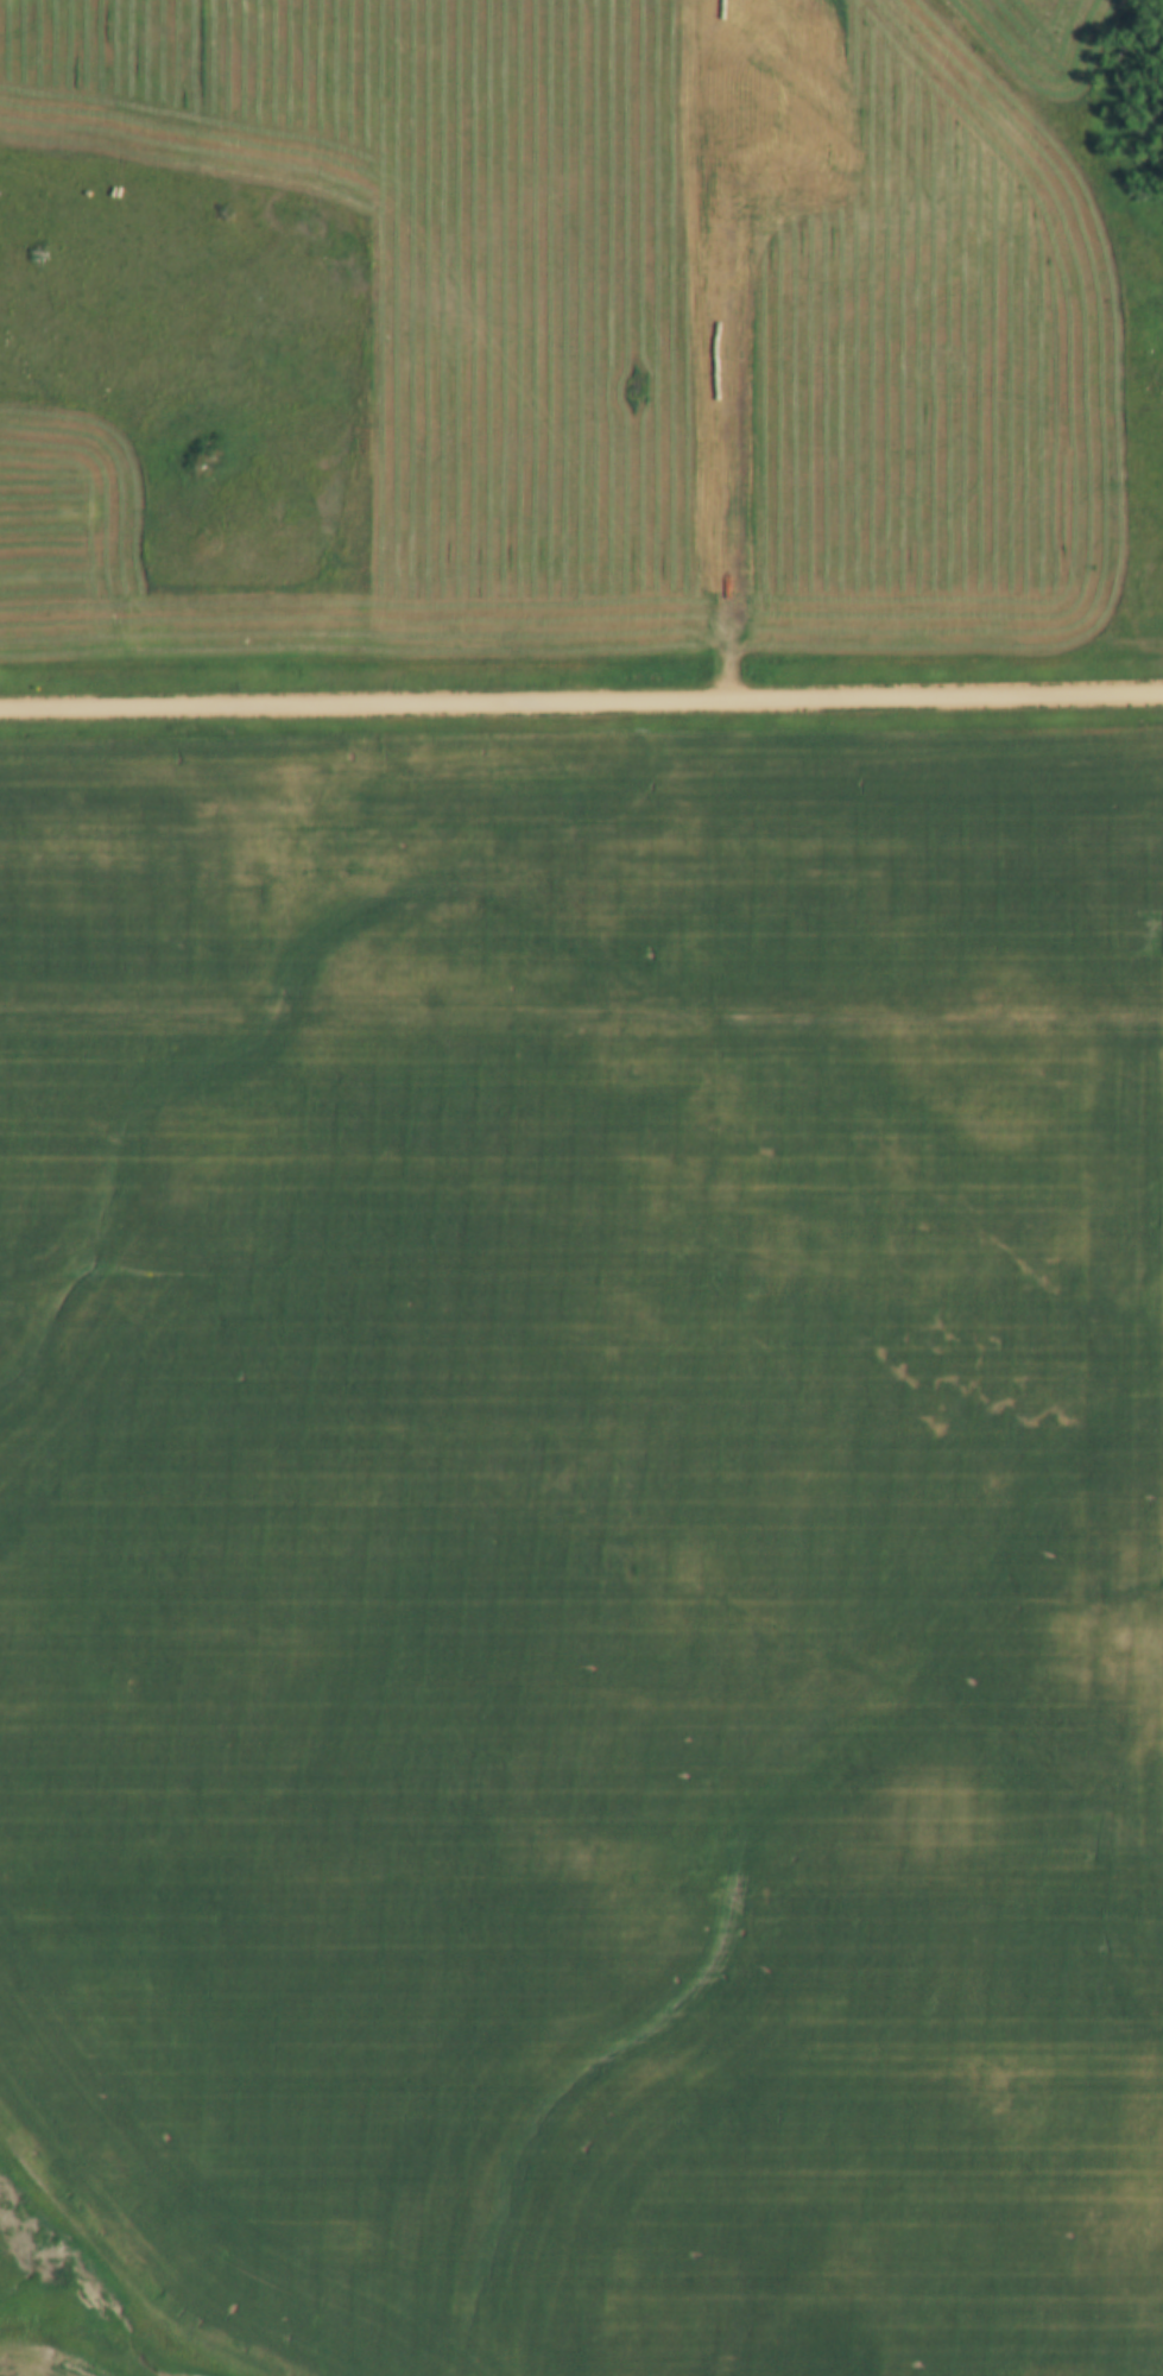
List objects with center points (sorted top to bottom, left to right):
road: (581, 704)

